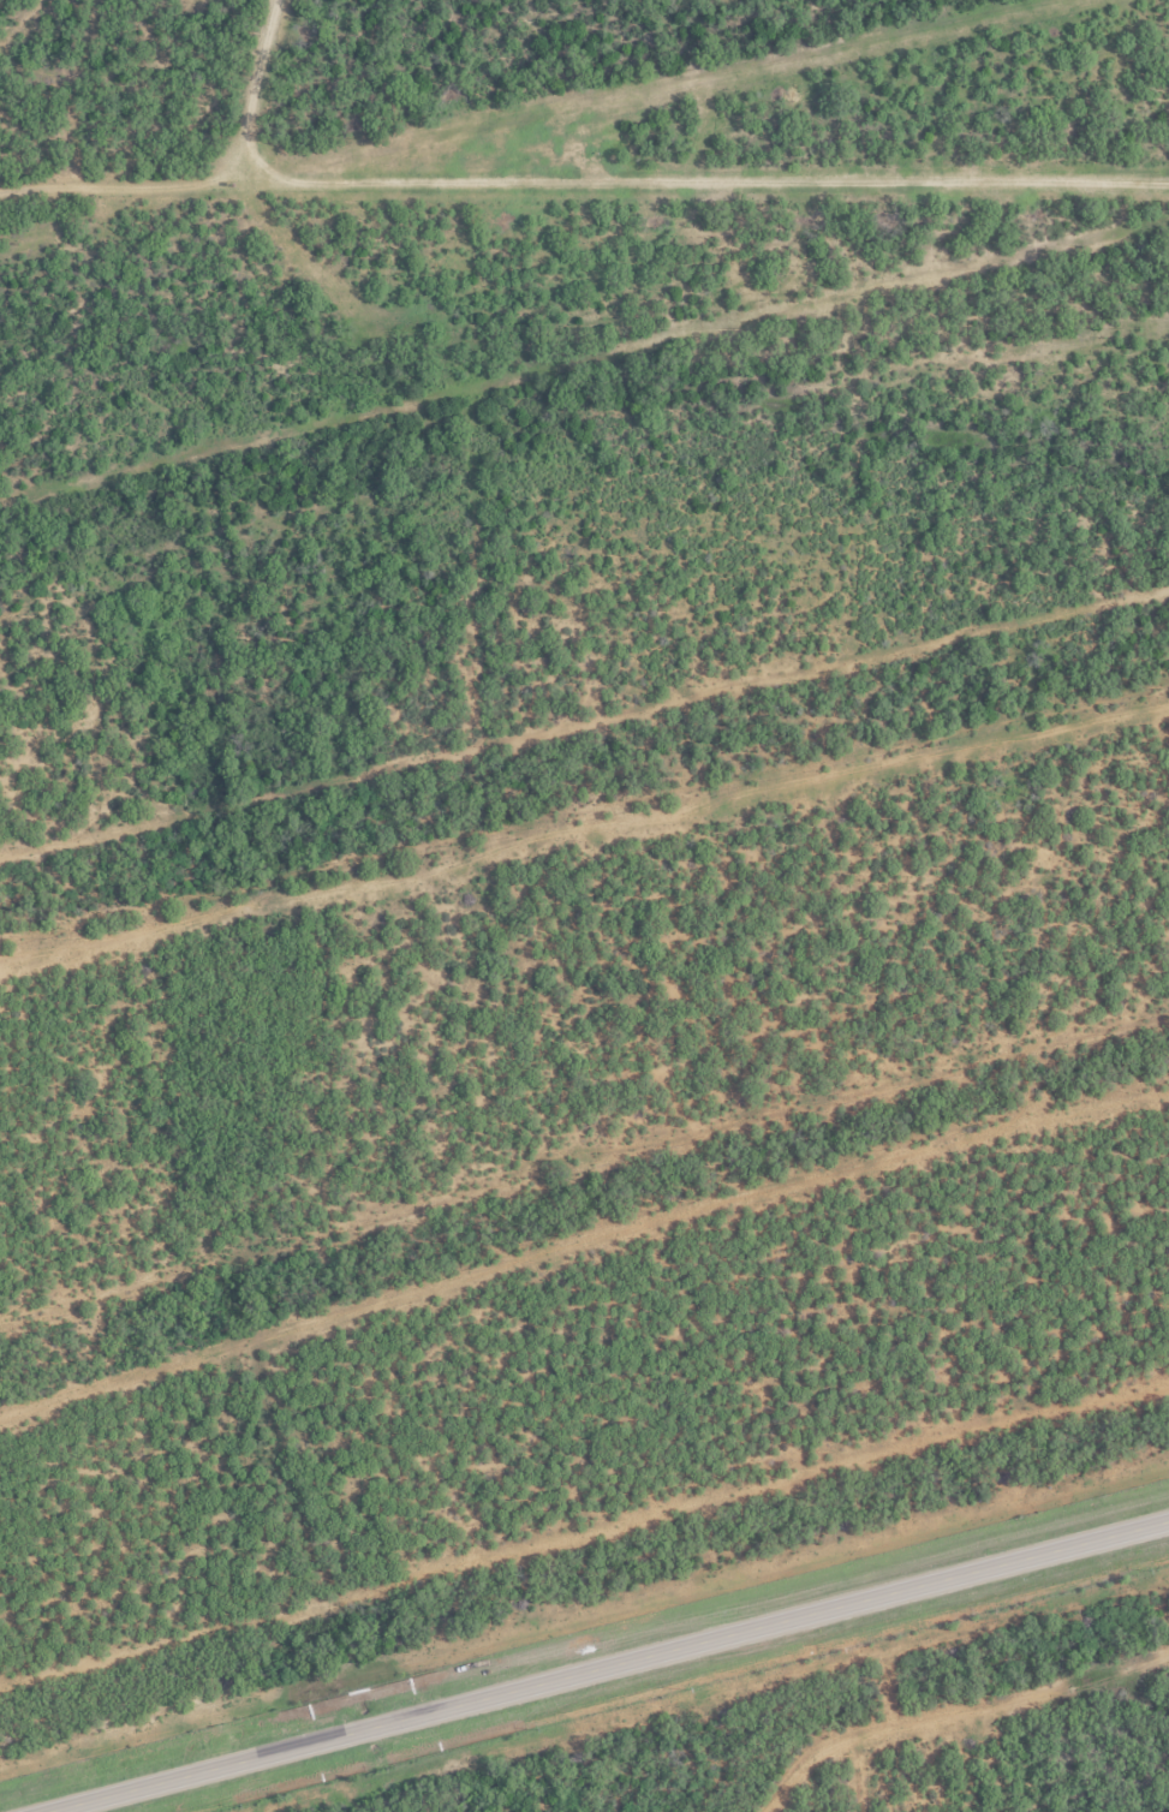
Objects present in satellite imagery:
road: (136, 117)
road: (584, 237)
road: (607, 1665)

